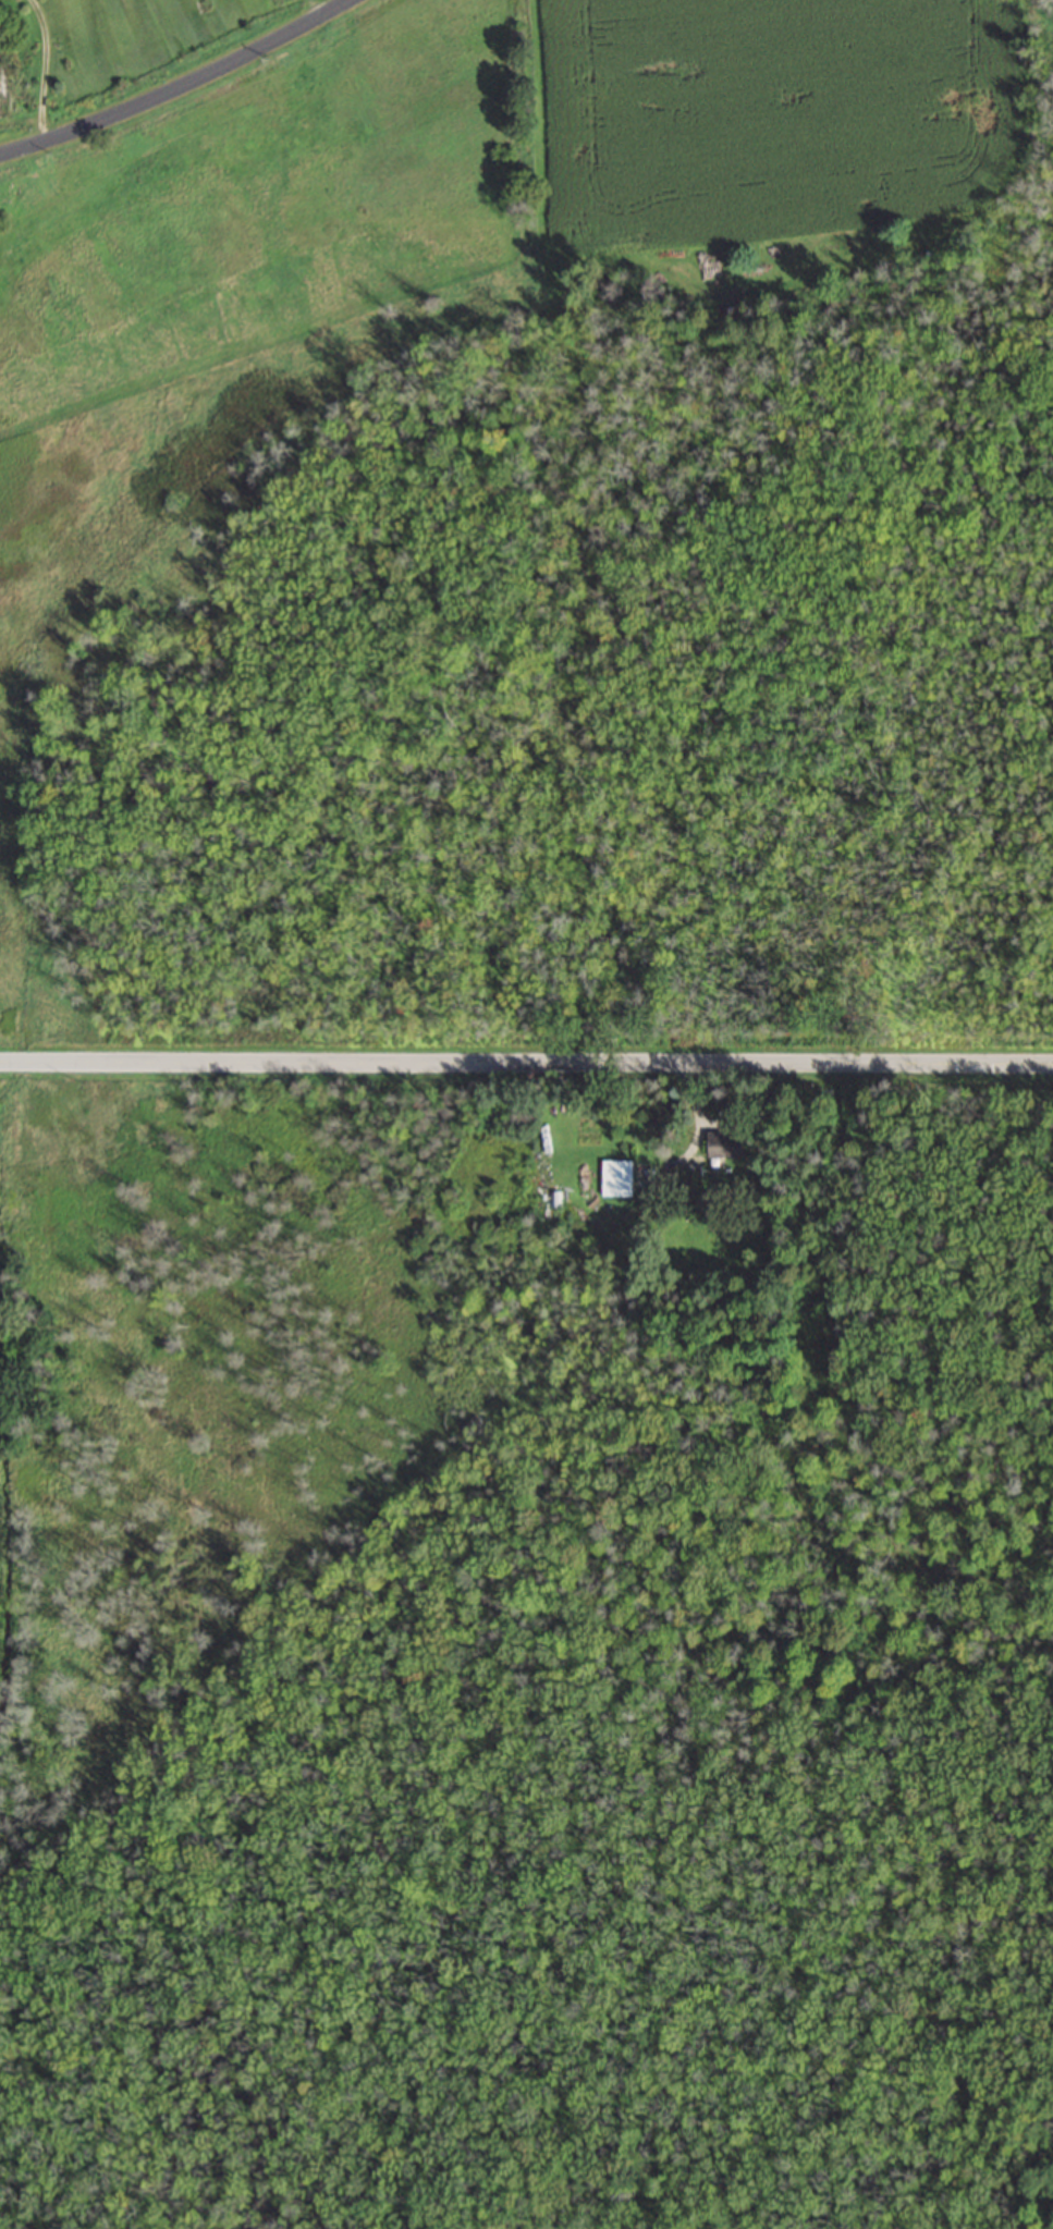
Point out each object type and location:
road: (179, 86)
road: (526, 1063)
building: (726, 1142)
building: (617, 1176)

